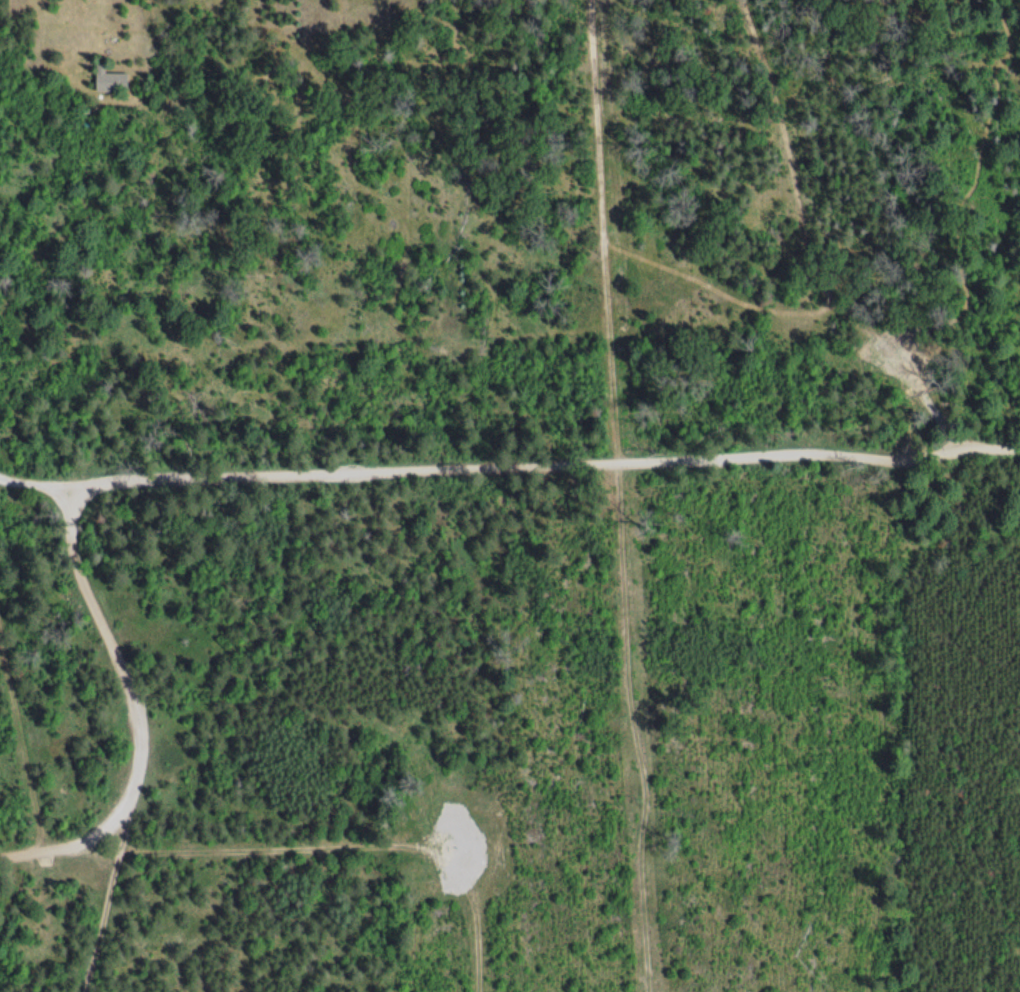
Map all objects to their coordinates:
building: (104, 82)
road: (803, 242)
road: (510, 465)
road: (145, 729)
road: (329, 852)

